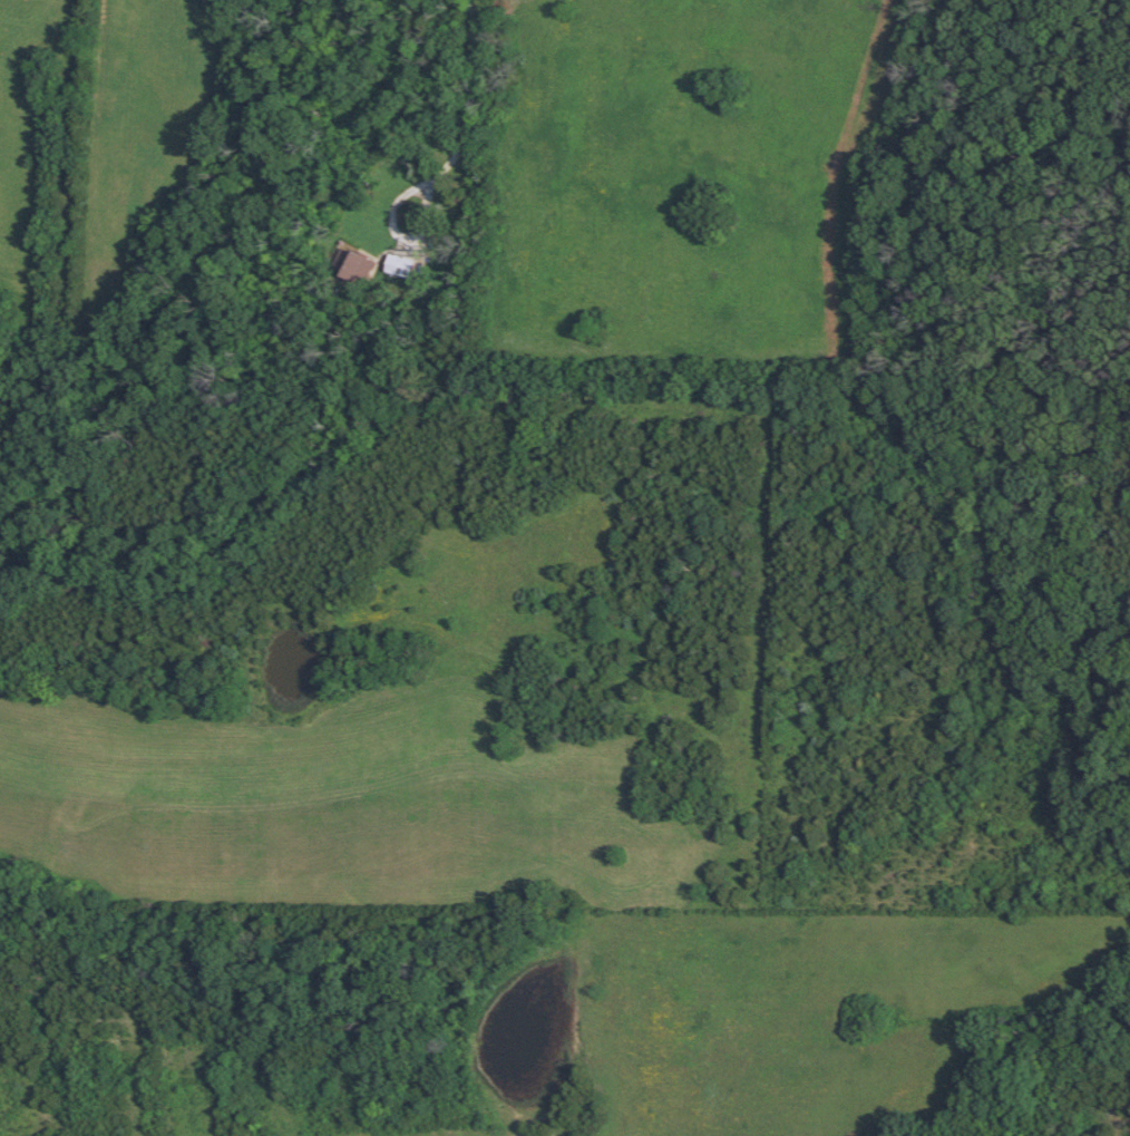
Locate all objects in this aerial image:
road: (474, 127)
building: (401, 268)
building: (359, 271)

